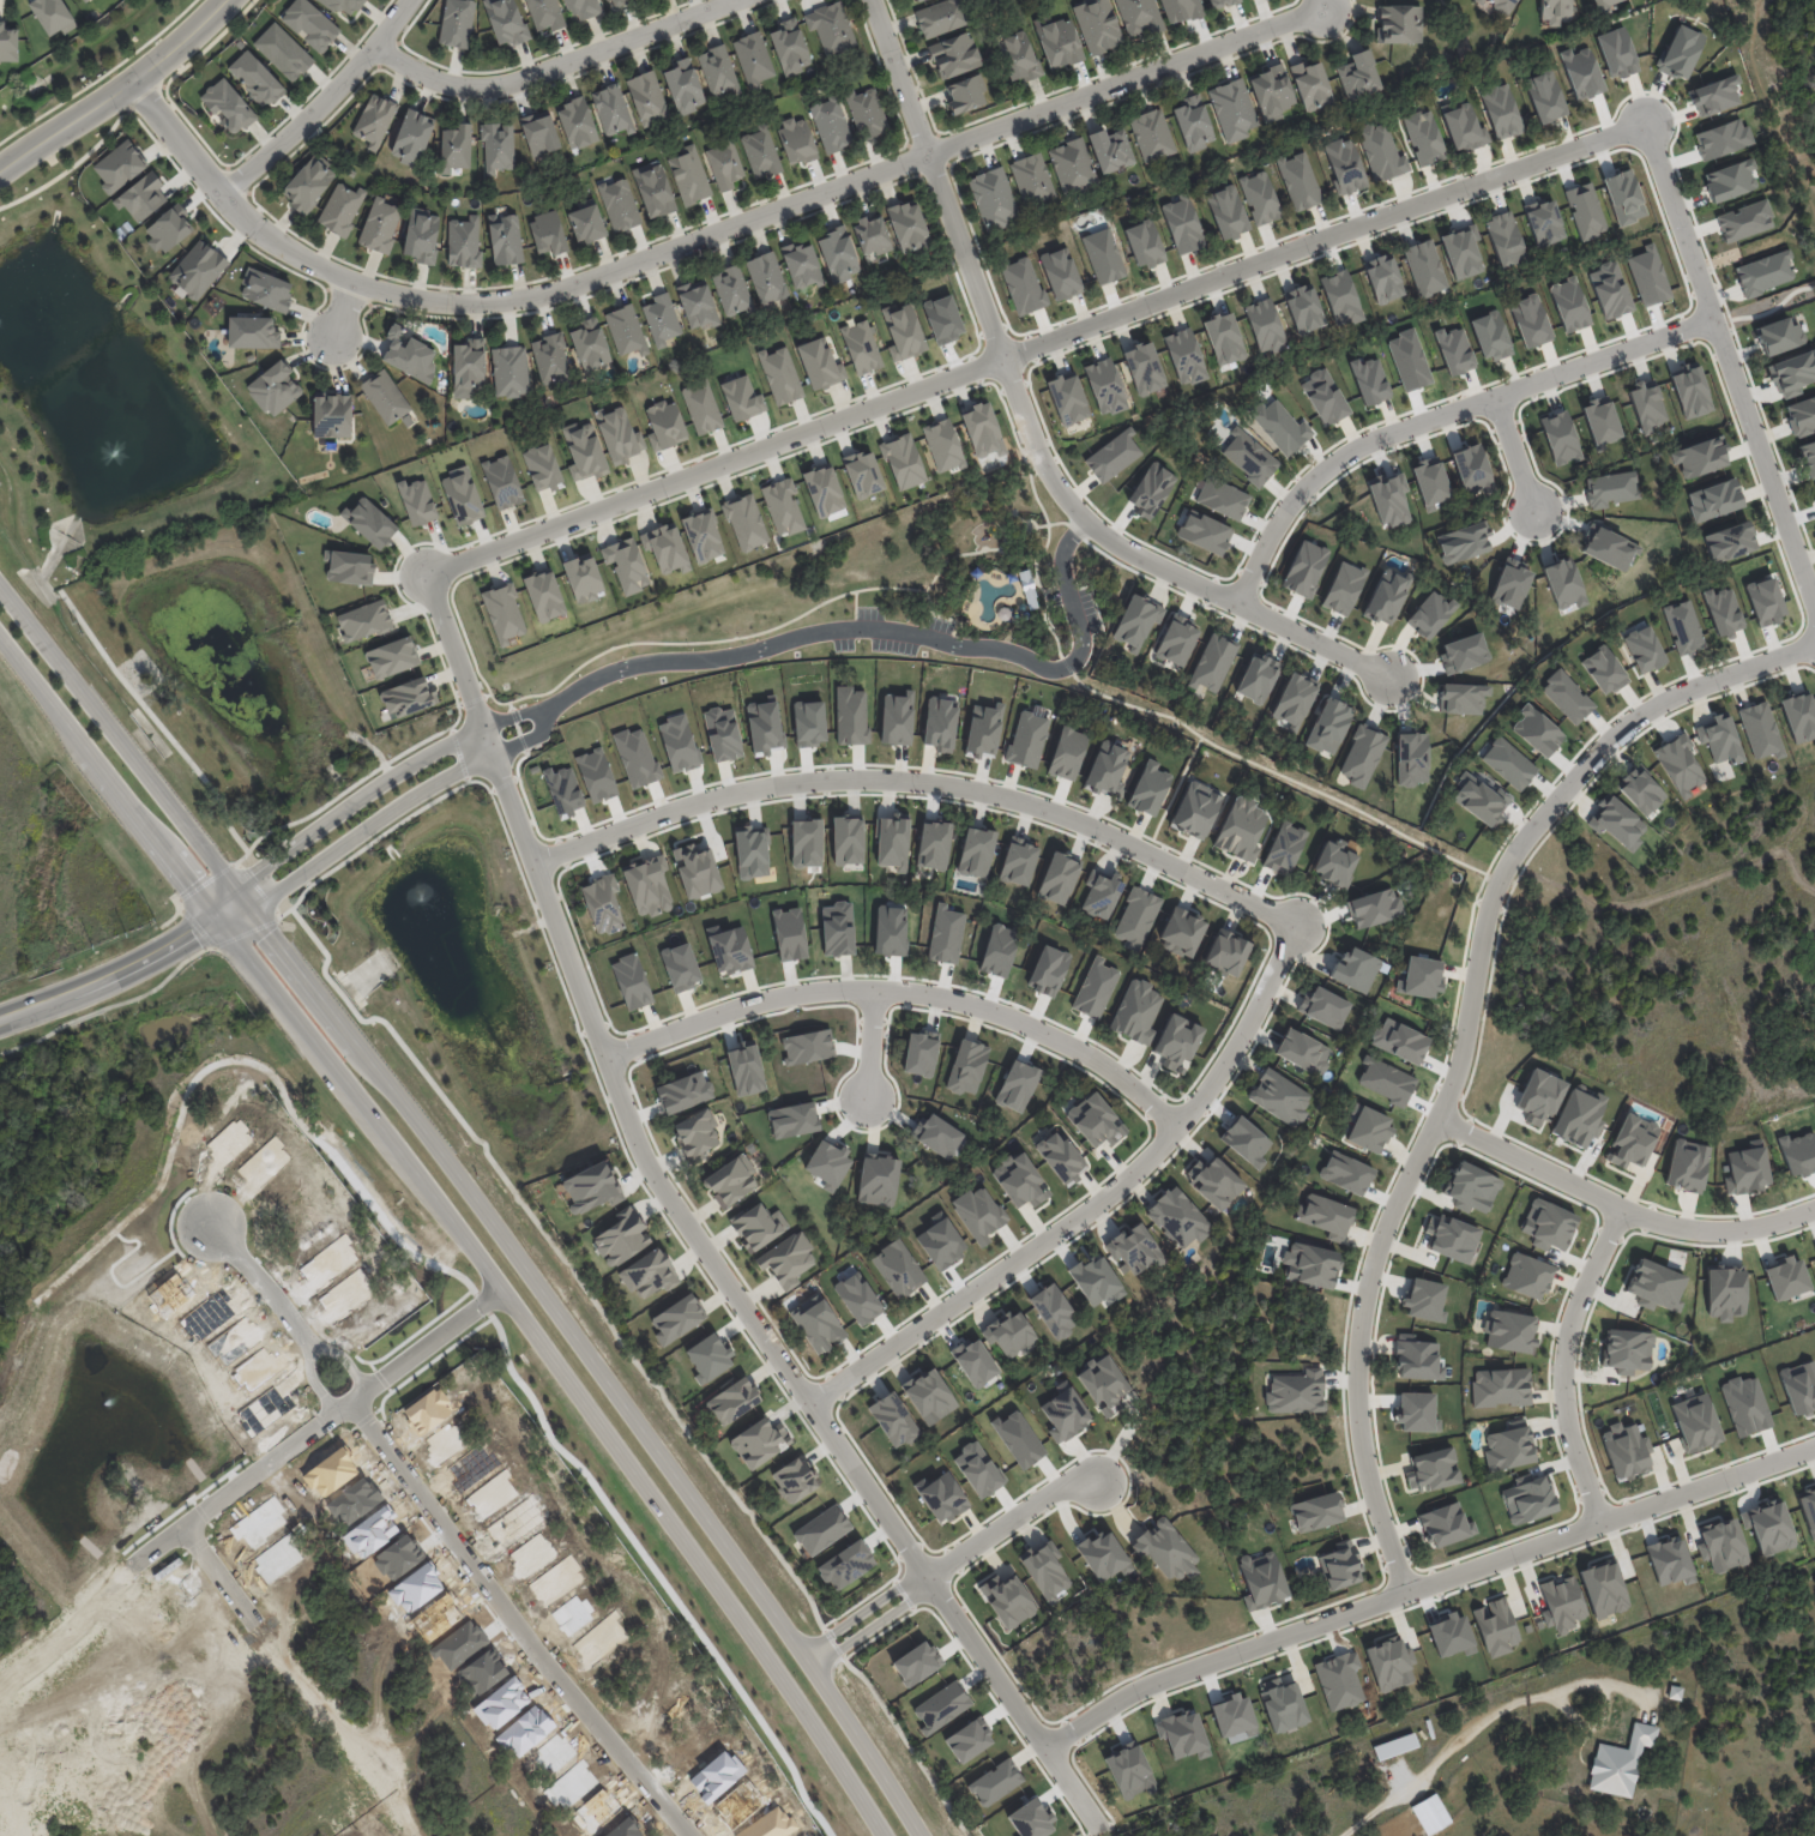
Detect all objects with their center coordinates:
building: (84, 0)
building: (88, 0)
building: (604, 0)
building: (913, 0)
building: (922, 0)
building: (623, 2)
building: (1220, 2)
road: (1322, 4)
building: (346, 5)
building: (1497, 5)
building: (1603, 5)
building: (585, 7)
building: (1180, 10)
building: (1555, 11)
building: (548, 13)
building: (53, 16)
building: (1144, 16)
building: (946, 17)
building: (508, 20)
building: (459, 23)
building: (313, 24)
building: (1403, 24)
building: (1101, 25)
building: (834, 29)
building: (8, 43)
building: (1063, 43)
building: (794, 48)
building: (282, 52)
building: (1680, 52)
building: (1616, 53)
building: (959, 55)
building: (1021, 56)
building: (754, 60)
road: (555, 66)
building: (720, 71)
building: (1580, 72)
building: (1363, 76)
building: (258, 78)
building: (1315, 85)
building: (687, 86)
road: (121, 91)
building: (1277, 94)
building: (967, 95)
building: (1544, 96)
building: (1714, 96)
building: (650, 97)
road: (1771, 97)
road: (321, 103)
building: (230, 106)
building: (614, 109)
building: (1236, 110)
building: (1500, 110)
building: (869, 113)
park: (1774, 113)
road: (1798, 119)
building: (376, 120)
building: (581, 122)
building: (1196, 124)
building: (834, 125)
building: (1463, 127)
building: (316, 133)
building: (1154, 136)
building: (1423, 137)
building: (415, 138)
building: (539, 138)
building: (1721, 138)
building: (795, 142)
building: (499, 146)
building: (458, 148)
building: (1114, 150)
building: (1381, 151)
building: (764, 152)
building: (726, 164)
building: (119, 165)
building: (1344, 165)
building: (1077, 167)
building: (688, 177)
building: (1036, 180)
building: (1298, 180)
building: (1730, 180)
building: (310, 183)
building: (657, 189)
building: (141, 197)
building: (1259, 197)
building: (1623, 197)
building: (996, 198)
building: (621, 205)
building: (343, 209)
building: (1585, 210)
building: (1226, 212)
building: (1743, 221)
building: (1544, 222)
building: (589, 223)
building: (382, 225)
building: (1182, 225)
building: (167, 228)
building: (910, 228)
building: (547, 233)
building: (874, 235)
building: (424, 236)
road: (703, 236)
building: (1505, 239)
building: (506, 240)
building: (465, 243)
building: (1144, 243)
building: (1461, 251)
building: (842, 254)
building: (1103, 255)
building: (804, 266)
building: (1424, 267)
building: (197, 269)
building: (1763, 272)
building: (1060, 273)
building: (1648, 276)
building: (770, 278)
building: (1382, 278)
building: (1021, 285)
building: (1609, 290)
building: (270, 291)
building: (735, 291)
building: (1340, 299)
building: (1569, 305)
building: (700, 306)
road: (344, 308)
building: (1303, 308)
road: (1766, 311)
building: (664, 319)
building: (1530, 320)
building: (1264, 325)
building: (628, 331)
building: (903, 331)
building: (252, 332)
building: (1489, 336)
building: (1779, 336)
building: (1223, 338)
building: (593, 347)
building: (861, 347)
road: (1031, 347)
building: (1453, 350)
building: (408, 354)
building: (1184, 356)
building: (553, 359)
building: (819, 365)
building: (471, 367)
building: (1144, 368)
road: (1726, 369)
building: (513, 372)
building: (1792, 373)
building: (779, 375)
building: (1369, 380)
building: (1104, 386)
building: (276, 390)
building: (1690, 391)
building: (1323, 396)
building: (387, 398)
building: (741, 398)
building: (1067, 399)
building: (1646, 405)
building: (701, 407)
building: (1801, 415)
building: (333, 416)
road: (1436, 416)
building: (1600, 421)
building: (664, 425)
road: (1025, 426)
building: (1279, 426)
building: (982, 431)
building: (619, 438)
building: (1560, 438)
building: (942, 445)
building: (583, 451)
road: (1512, 455)
building: (1111, 456)
building: (1248, 456)
building: (1699, 457)
building: (1808, 457)
building: (903, 462)
building: (542, 468)
building: (1471, 469)
building: (862, 474)
building: (501, 482)
building: (1430, 482)
building: (1610, 488)
building: (1151, 489)
building: (822, 490)
building: (1814, 490)
building: (460, 495)
building: (1222, 498)
building: (1388, 499)
building: (1713, 499)
building: (416, 501)
building: (782, 506)
building: (369, 522)
building: (744, 522)
building: (1204, 532)
building: (701, 535)
building: (1463, 542)
building: (1729, 542)
building: (665, 547)
building: (1608, 548)
building: (626, 565)
building: (349, 567)
building: (1304, 568)
building: (583, 578)
building: (1563, 583)
building: (1511, 584)
building: (1343, 588)
building: (543, 595)
building: (1386, 596)
building: (1763, 601)
building: (1721, 612)
building: (502, 613)
building: (1429, 613)
building: (1135, 620)
building: (363, 621)
road: (882, 625)
building: (1682, 627)
building: (1176, 640)
building: (1642, 649)
building: (1461, 651)
building: (391, 657)
building: (1212, 662)
building: (1603, 670)
building: (1256, 678)
building: (1566, 696)
building: (408, 697)
building: (1461, 698)
building: (1294, 699)
building: (850, 715)
building: (1798, 716)
building: (896, 718)
building: (808, 723)
building: (940, 723)
building: (1328, 726)
building: (764, 727)
building: (983, 730)
building: (1536, 730)
building: (1760, 730)
road: (120, 734)
building: (722, 734)
building: (1026, 739)
building: (1719, 739)
building: (677, 744)
building: (1067, 753)
building: (1362, 756)
building: (635, 757)
building: (1411, 758)
building: (1507, 763)
building: (1680, 764)
building: (1105, 770)
road: (384, 776)
building: (596, 776)
road: (922, 781)
building: (1148, 788)
building: (1640, 789)
building: (1479, 800)
road: (400, 802)
building: (1195, 809)
building: (1616, 821)
building: (1241, 829)
building: (848, 839)
building: (892, 841)
building: (806, 843)
building: (933, 844)
building: (1284, 848)
building: (750, 851)
building: (976, 851)
building: (1018, 861)
building: (1334, 862)
building: (695, 871)
building: (1057, 878)
building: (647, 886)
building: (1099, 893)
building: (602, 904)
building: (1373, 907)
building: (1135, 917)
building: (1182, 932)
building: (945, 934)
building: (729, 950)
building: (1225, 952)
building: (680, 967)
road: (128, 968)
building: (1355, 969)
building: (1048, 970)
building: (1419, 977)
building: (631, 981)
building: (1095, 987)
road: (900, 992)
building: (1323, 1006)
building: (826, 1009)
building: (1135, 1010)
road: (866, 1041)
building: (1177, 1041)
building: (1399, 1041)
road: (1465, 1041)
building: (807, 1047)
building: (1302, 1052)
building: (919, 1054)
building: (966, 1066)
building: (746, 1070)
building: (1385, 1080)
building: (1017, 1085)
building: (683, 1092)
building: (1279, 1096)
building: (1539, 1096)
building: (1579, 1115)
building: (792, 1120)
building: (1098, 1122)
building: (1368, 1130)
building: (695, 1134)
building: (936, 1134)
building: (1246, 1140)
building: (1632, 1140)
building: (1060, 1156)
building: (827, 1164)
building: (1687, 1166)
building: (1745, 1170)
building: (1345, 1173)
building: (730, 1180)
building: (878, 1180)
building: (1213, 1181)
building: (1021, 1182)
building: (1470, 1187)
building: (590, 1188)
road: (1087, 1205)
road: (1617, 1206)
building: (978, 1214)
building: (1325, 1215)
building: (1177, 1217)
building: (1548, 1224)
building: (758, 1226)
road: (457, 1228)
building: (620, 1238)
road: (689, 1238)
building: (1451, 1238)
building: (940, 1242)
building: (1814, 1247)
building: (1134, 1248)
building: (786, 1260)
building: (1310, 1264)
building: (897, 1268)
road: (264, 1271)
building: (649, 1274)
building: (1526, 1276)
building: (1784, 1278)
building: (1096, 1280)
building: (1656, 1286)
building: (1724, 1292)
building: (857, 1298)
building: (1424, 1299)
building: (1053, 1311)
building: (676, 1318)
building: (816, 1324)
building: (1509, 1331)
building: (1009, 1334)
road: (342, 1350)
building: (1626, 1350)
road: (590, 1356)
building: (708, 1358)
building: (1416, 1360)
road: (1561, 1361)
building: (973, 1362)
road: (314, 1370)
building: (1103, 1384)
building: (1500, 1386)
building: (1798, 1386)
building: (1296, 1391)
building: (929, 1396)
building: (731, 1401)
building: (1744, 1405)
building: (1416, 1411)
building: (1065, 1414)
building: (892, 1419)
building: (1695, 1422)
building: (1018, 1438)
building: (759, 1443)
building: (1508, 1449)
building: (1626, 1450)
building: (977, 1469)
building: (1433, 1469)
road: (241, 1471)
building: (792, 1480)
building: (942, 1498)
building: (1527, 1499)
building: (1808, 1509)
building: (1316, 1511)
building: (1445, 1524)
building: (1767, 1525)
building: (821, 1530)
building: (1721, 1546)
building: (1165, 1551)
building: (1103, 1555)
building: (1669, 1560)
building: (845, 1564)
road: (943, 1565)
building: (1339, 1565)
building: (1045, 1570)
building: (1261, 1579)
road: (1419, 1585)
building: (1603, 1588)
building: (1006, 1600)
building: (1561, 1605)
road: (520, 1618)
building: (1495, 1627)
building: (916, 1663)
building: (1389, 1663)
road: (299, 1677)
building: (1339, 1680)
building: (1677, 1691)
building: (1282, 1704)
building: (940, 1706)
building: (1234, 1715)
road: (1490, 1727)
building: (1182, 1734)
building: (969, 1739)
building: (1399, 1745)
building: (1624, 1762)
road: (225, 1770)
building: (1128, 1770)
building: (995, 1782)
building: (1435, 1813)
building: (1031, 1819)
building: (501, 1834)

